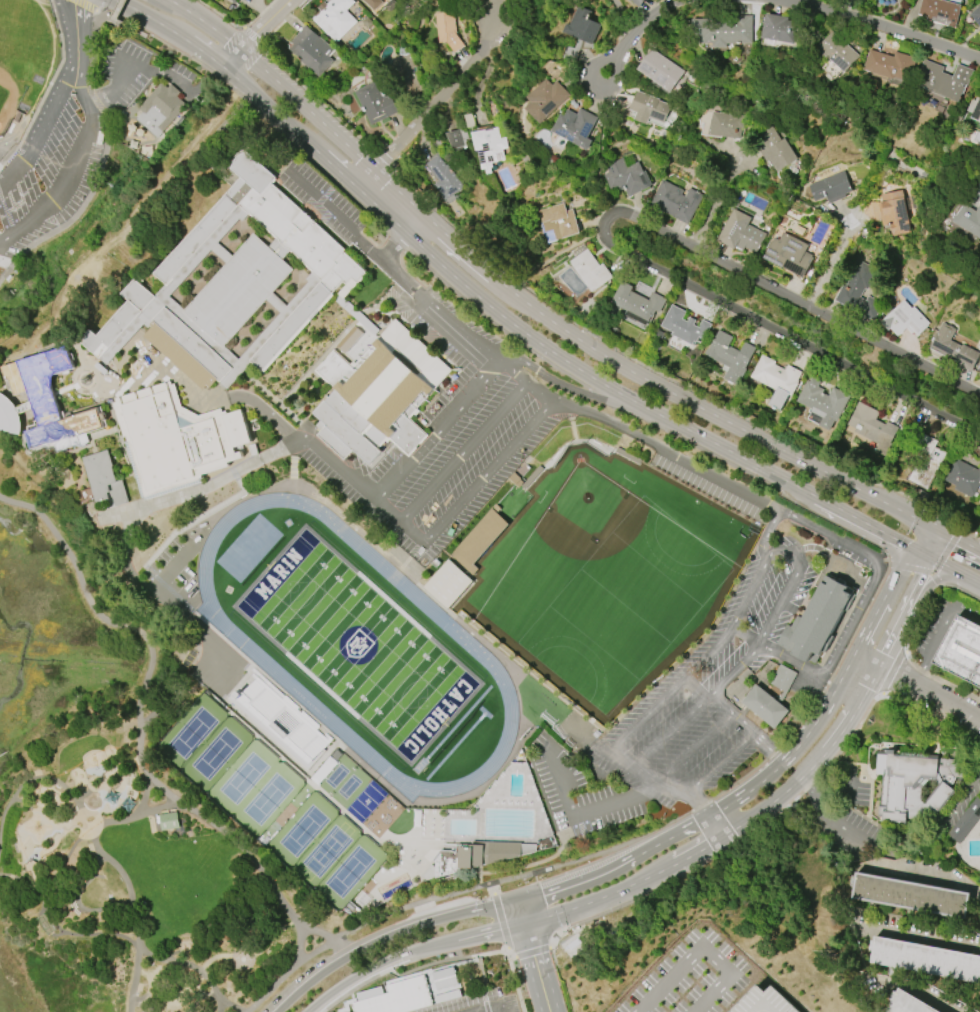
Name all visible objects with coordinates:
road: (169, 0)
building: (875, 0)
building: (233, 1)
building: (637, 2)
building: (373, 4)
road: (117, 8)
building: (940, 12)
road: (102, 14)
road: (142, 14)
building: (976, 15)
road: (115, 17)
building: (334, 18)
road: (207, 24)
road: (263, 24)
road: (878, 24)
building: (780, 29)
building: (448, 30)
building: (724, 31)
building: (581, 32)
road: (635, 32)
road: (93, 45)
road: (200, 50)
building: (311, 51)
building: (839, 52)
park: (21, 58)
road: (235, 61)
building: (889, 65)
building: (661, 70)
road: (123, 71)
building: (408, 71)
building: (943, 80)
road: (75, 85)
road: (243, 85)
road: (94, 97)
building: (546, 100)
building: (377, 101)
road: (431, 106)
building: (648, 108)
building: (975, 108)
building: (160, 109)
road: (308, 111)
building: (725, 125)
road: (288, 127)
building: (575, 127)
building: (456, 139)
building: (79, 144)
building: (489, 147)
building: (775, 150)
road: (338, 172)
building: (442, 178)
building: (626, 178)
road: (40, 188)
building: (830, 188)
road: (726, 190)
building: (676, 202)
road: (78, 211)
building: (893, 212)
road: (335, 217)
building: (969, 219)
building: (559, 221)
building: (740, 233)
road: (393, 248)
building: (789, 254)
road: (552, 259)
road: (833, 262)
building: (590, 270)
building: (234, 285)
building: (859, 292)
road: (793, 298)
building: (637, 303)
road: (561, 309)
building: (905, 319)
building: (684, 326)
road: (780, 333)
road: (485, 348)
building: (954, 348)
building: (730, 357)
road: (637, 375)
building: (776, 380)
road: (537, 393)
building: (378, 395)
road: (623, 396)
building: (46, 403)
building: (822, 403)
road: (449, 418)
building: (872, 428)
building: (175, 439)
road: (303, 441)
road: (667, 447)
road: (462, 451)
building: (927, 462)
building: (963, 478)
building: (103, 479)
road: (475, 485)
road: (143, 507)
road: (388, 508)
traffic signals: (936, 529)
road: (765, 536)
road: (958, 540)
building: (479, 541)
road: (929, 541)
traffic signals: (923, 553)
road: (947, 565)
road: (764, 566)
park: (597, 570)
road: (875, 570)
road: (909, 579)
road: (930, 580)
road: (975, 580)
building: (447, 584)
road: (91, 602)
building: (820, 618)
road: (939, 629)
road: (204, 630)
road: (881, 632)
road: (747, 634)
track: (462, 639)
park: (357, 645)
building: (961, 650)
road: (791, 661)
road: (737, 668)
road: (827, 683)
road: (923, 688)
road: (695, 689)
building: (772, 698)
road: (719, 699)
road: (646, 712)
building: (283, 722)
road: (742, 722)
park: (192, 733)
road: (670, 733)
road: (66, 737)
road: (695, 746)
road: (767, 747)
park: (216, 754)
road: (719, 762)
park: (336, 776)
park: (243, 778)
building: (912, 781)
road: (671, 786)
park: (348, 787)
road: (14, 793)
road: (959, 795)
park: (267, 799)
park: (115, 803)
road: (582, 812)
building: (168, 821)
building: (965, 822)
road: (828, 825)
park: (303, 831)
road: (855, 833)
park: (326, 851)
road: (695, 853)
building: (477, 856)
road: (929, 871)
park: (349, 872)
road: (596, 872)
road: (21, 880)
building: (910, 895)
road: (76, 907)
road: (915, 931)
road: (978, 933)
road: (69, 934)
road: (702, 947)
road: (533, 955)
building: (925, 959)
road: (369, 968)
road: (283, 973)
building: (411, 993)
building: (764, 1001)
building: (908, 1003)
road: (490, 1008)

